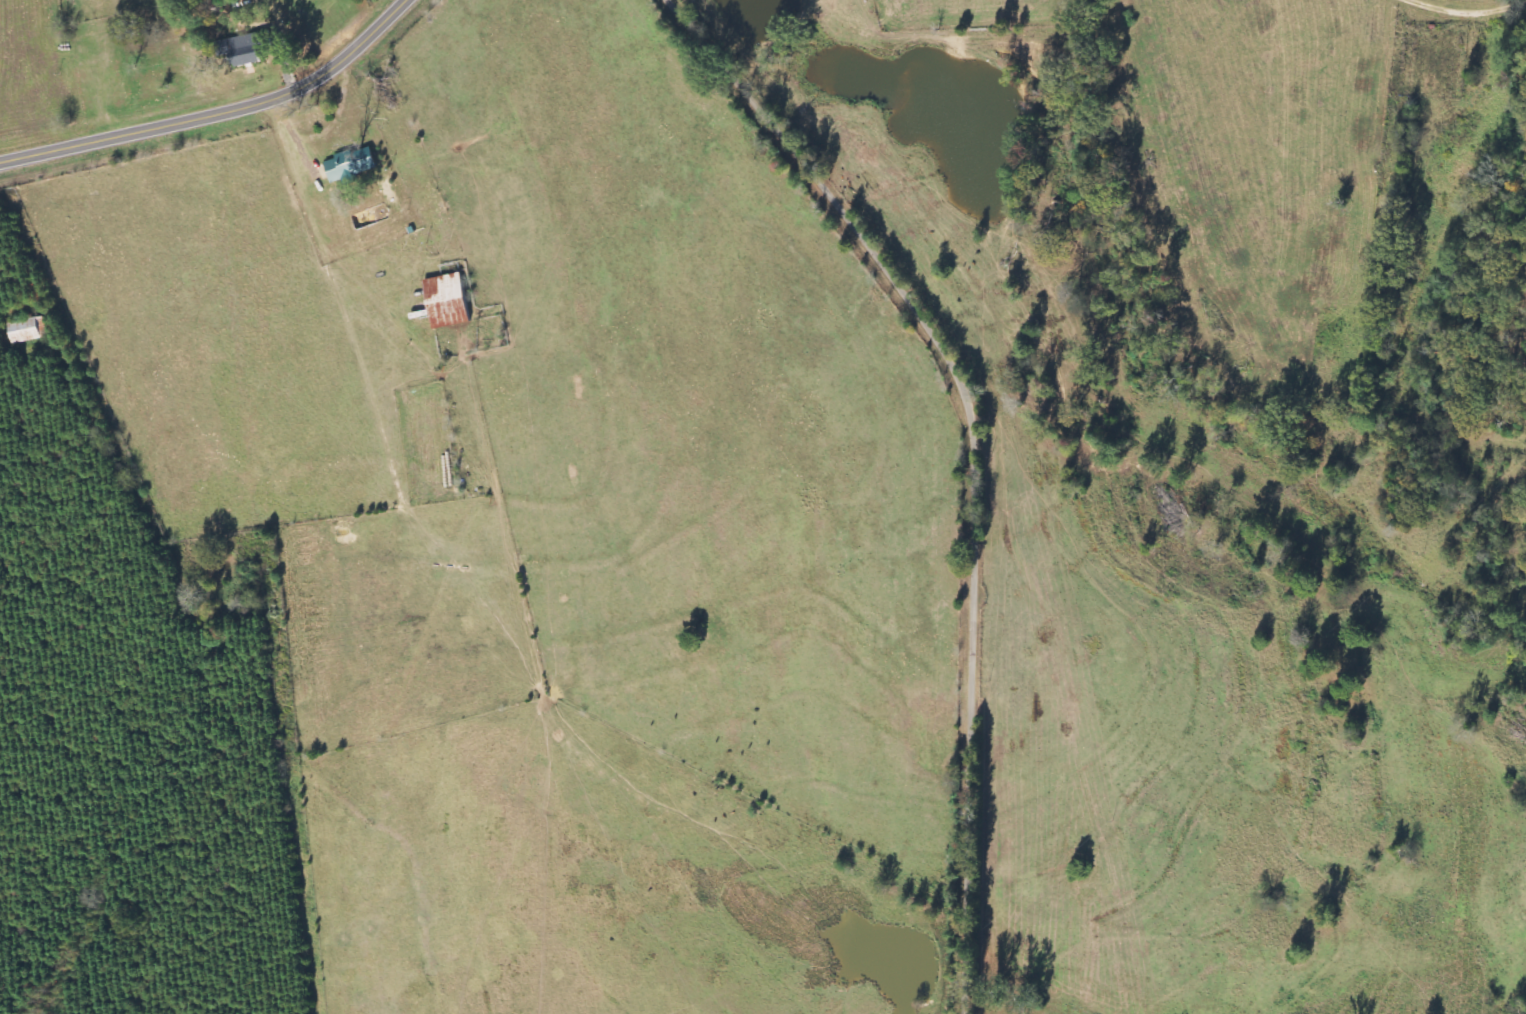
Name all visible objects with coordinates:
building: (247, 48)
road: (217, 114)
building: (351, 164)
building: (448, 301)
building: (42, 327)
building: (24, 331)
road: (983, 457)

